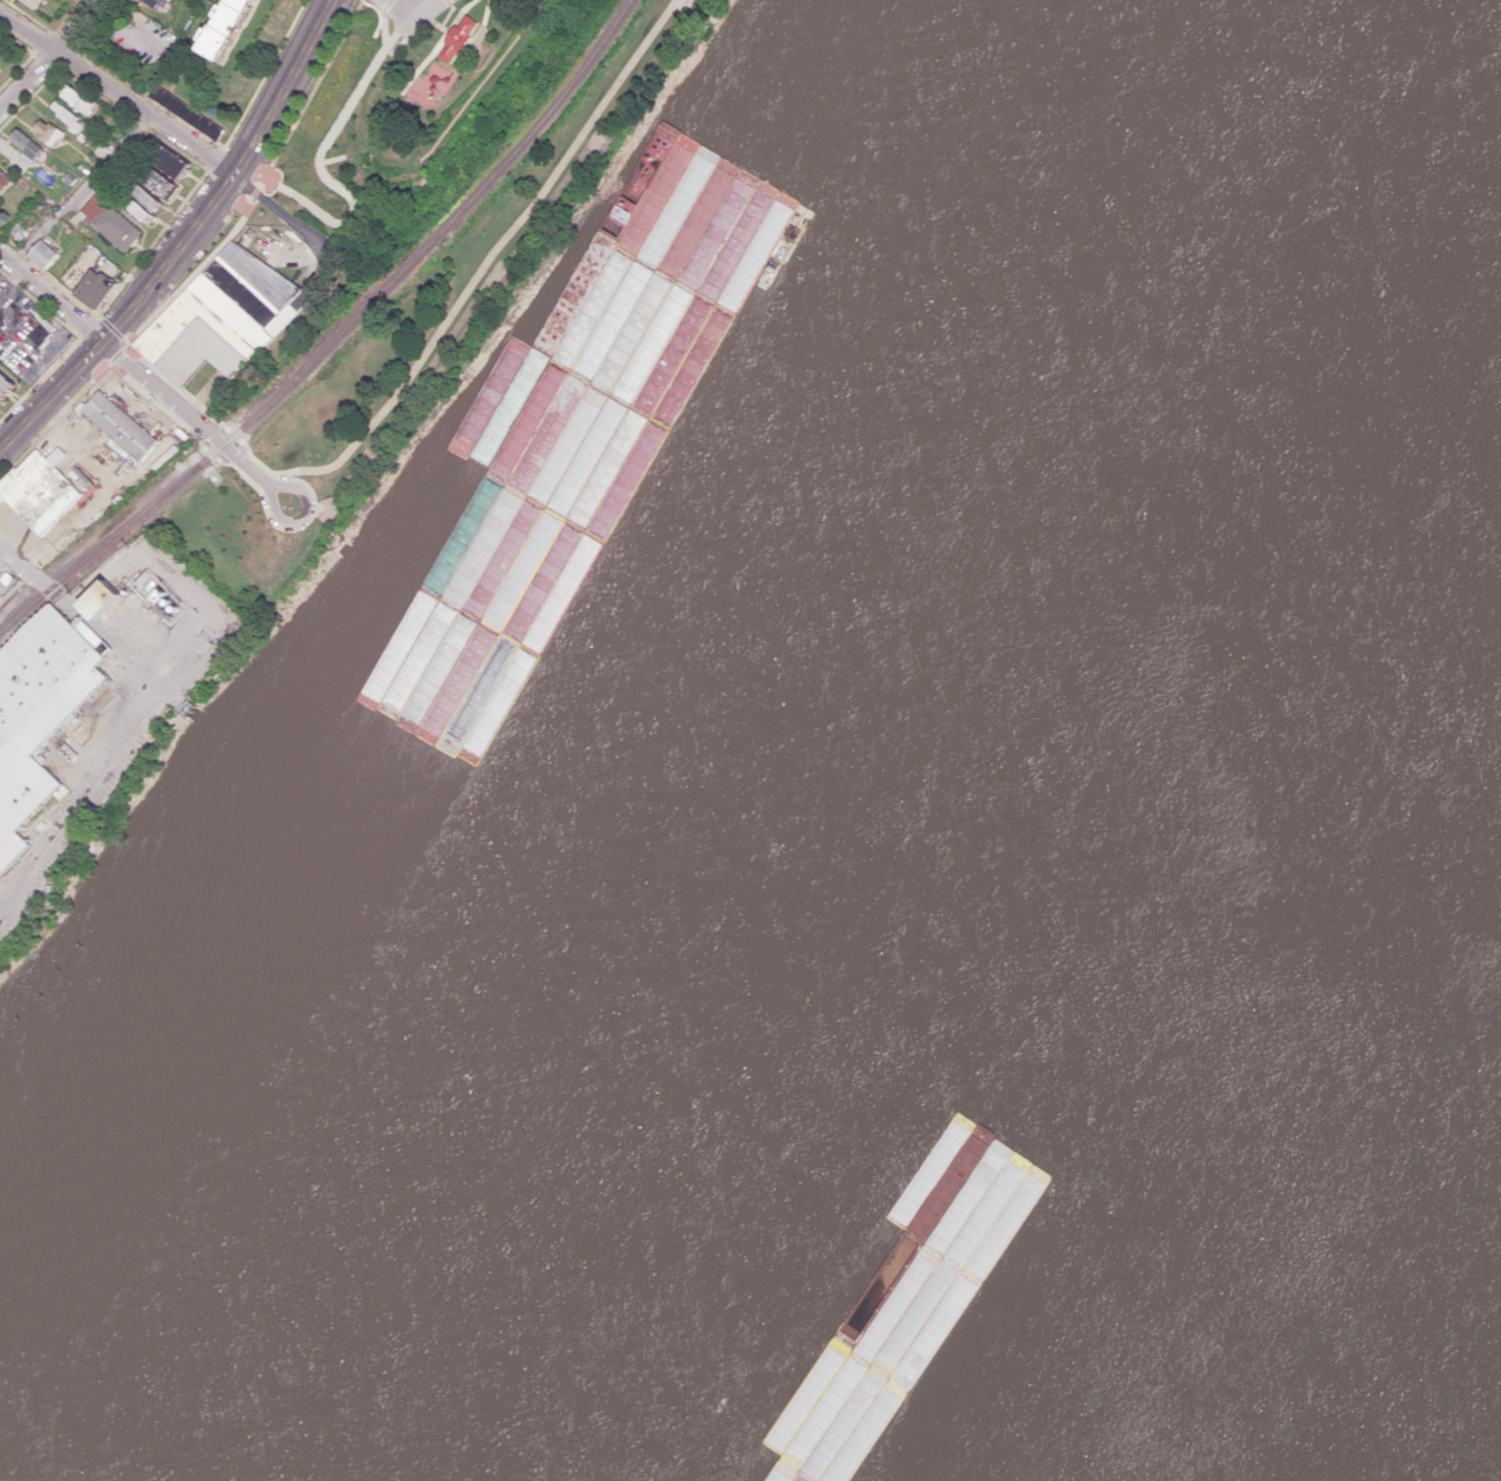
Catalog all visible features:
road: (450, 3)
road: (387, 4)
road: (409, 5)
road: (425, 5)
road: (71, 25)
road: (479, 36)
building: (458, 38)
parking lot: (0, 68)
road: (420, 70)
road: (28, 79)
road: (282, 87)
road: (116, 91)
park: (390, 97)
street lamp: (615, 109)
building: (185, 111)
street lamp: (598, 134)
street lamp: (581, 157)
street lamp: (565, 179)
road: (82, 189)
street lamp: (549, 203)
road: (283, 211)
street lamp: (516, 251)
road: (492, 262)
street lamp: (496, 270)
building: (568, 277)
street lamp: (481, 295)
road: (51, 296)
road: (123, 316)
building: (223, 318)
street lamp: (464, 319)
park: (415, 333)
railway: (337, 336)
street lamp: (431, 366)
road: (198, 420)
building: (123, 424)
building: (40, 490)
railway: (100, 556)
road: (19, 563)
building: (101, 598)
building: (44, 690)
river: (919, 732)
road: (118, 745)
building: (2, 923)
building: (902, 1102)
building: (986, 1194)
building: (857, 1195)
building: (1012, 1205)
building: (899, 1214)
building: (870, 1222)
building: (900, 1241)
building: (822, 1320)
building: (842, 1331)
building: (876, 1367)
building: (744, 1430)
building: (796, 1452)
building: (829, 1466)

